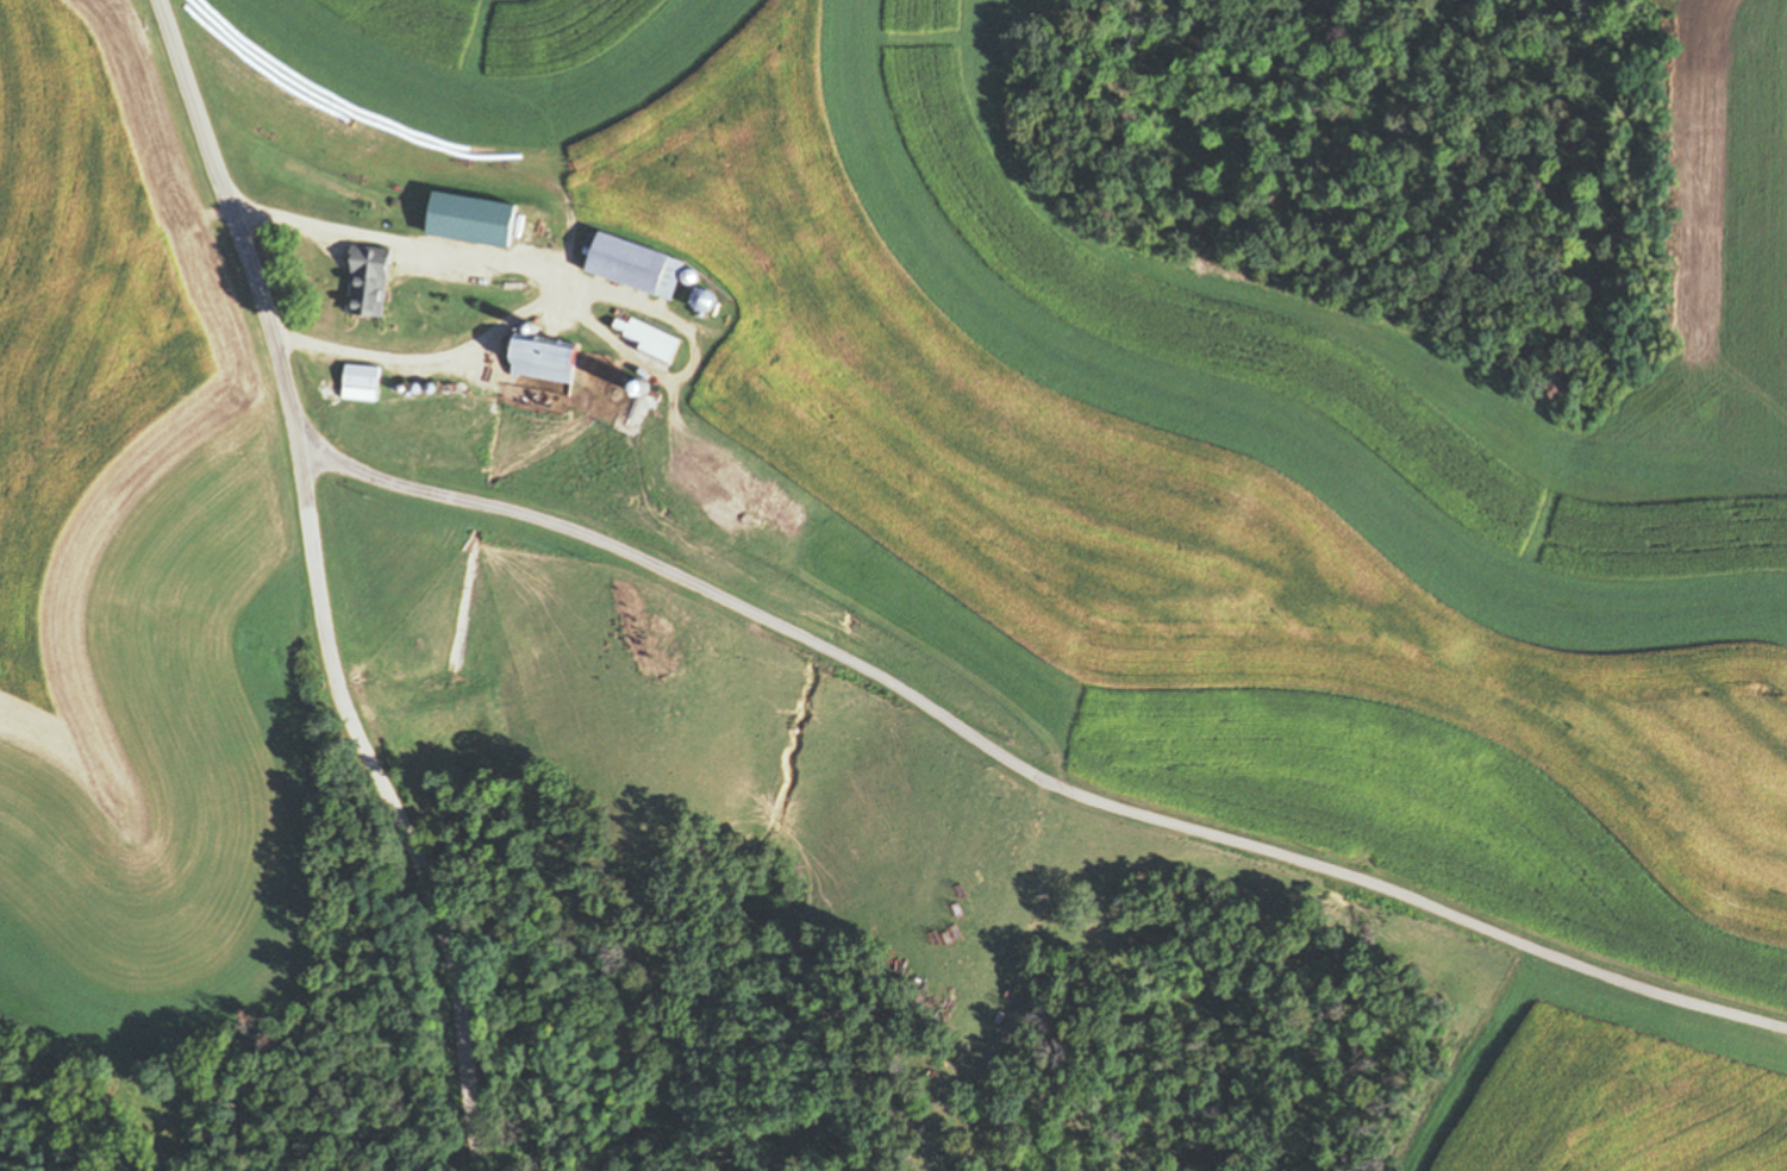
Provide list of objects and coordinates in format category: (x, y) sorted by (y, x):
building: (639, 268)
building: (375, 284)
building: (655, 340)
building: (550, 358)
road: (1011, 380)
building: (365, 384)
road: (307, 587)

